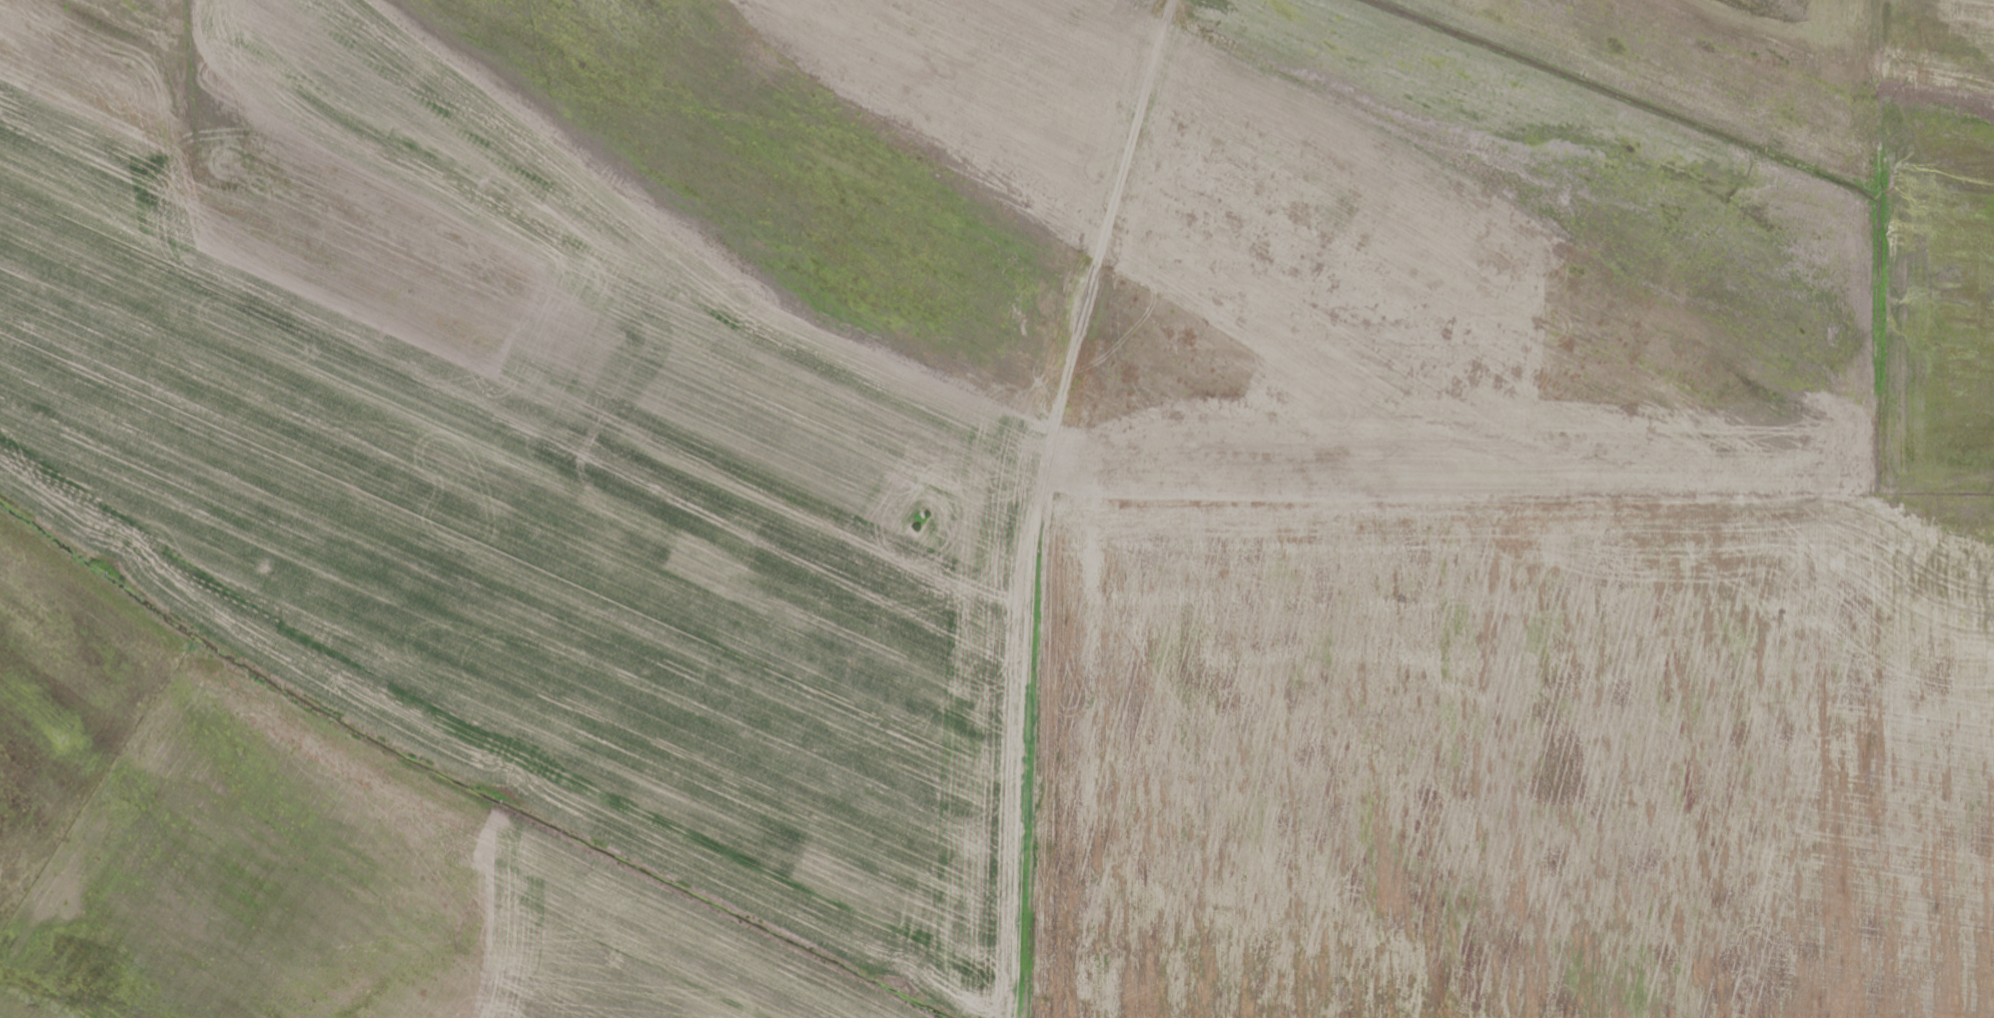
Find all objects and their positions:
road: (1041, 500)

